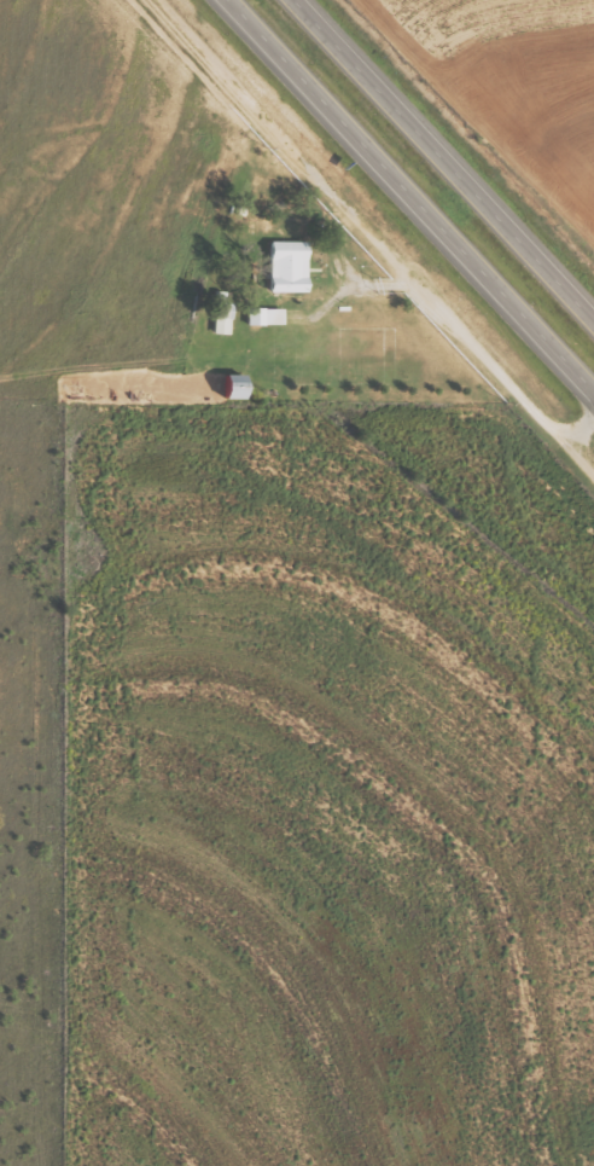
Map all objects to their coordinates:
road: (444, 159)
road: (409, 196)
road: (379, 233)
building: (295, 267)
building: (226, 313)
building: (269, 315)
road: (581, 428)

